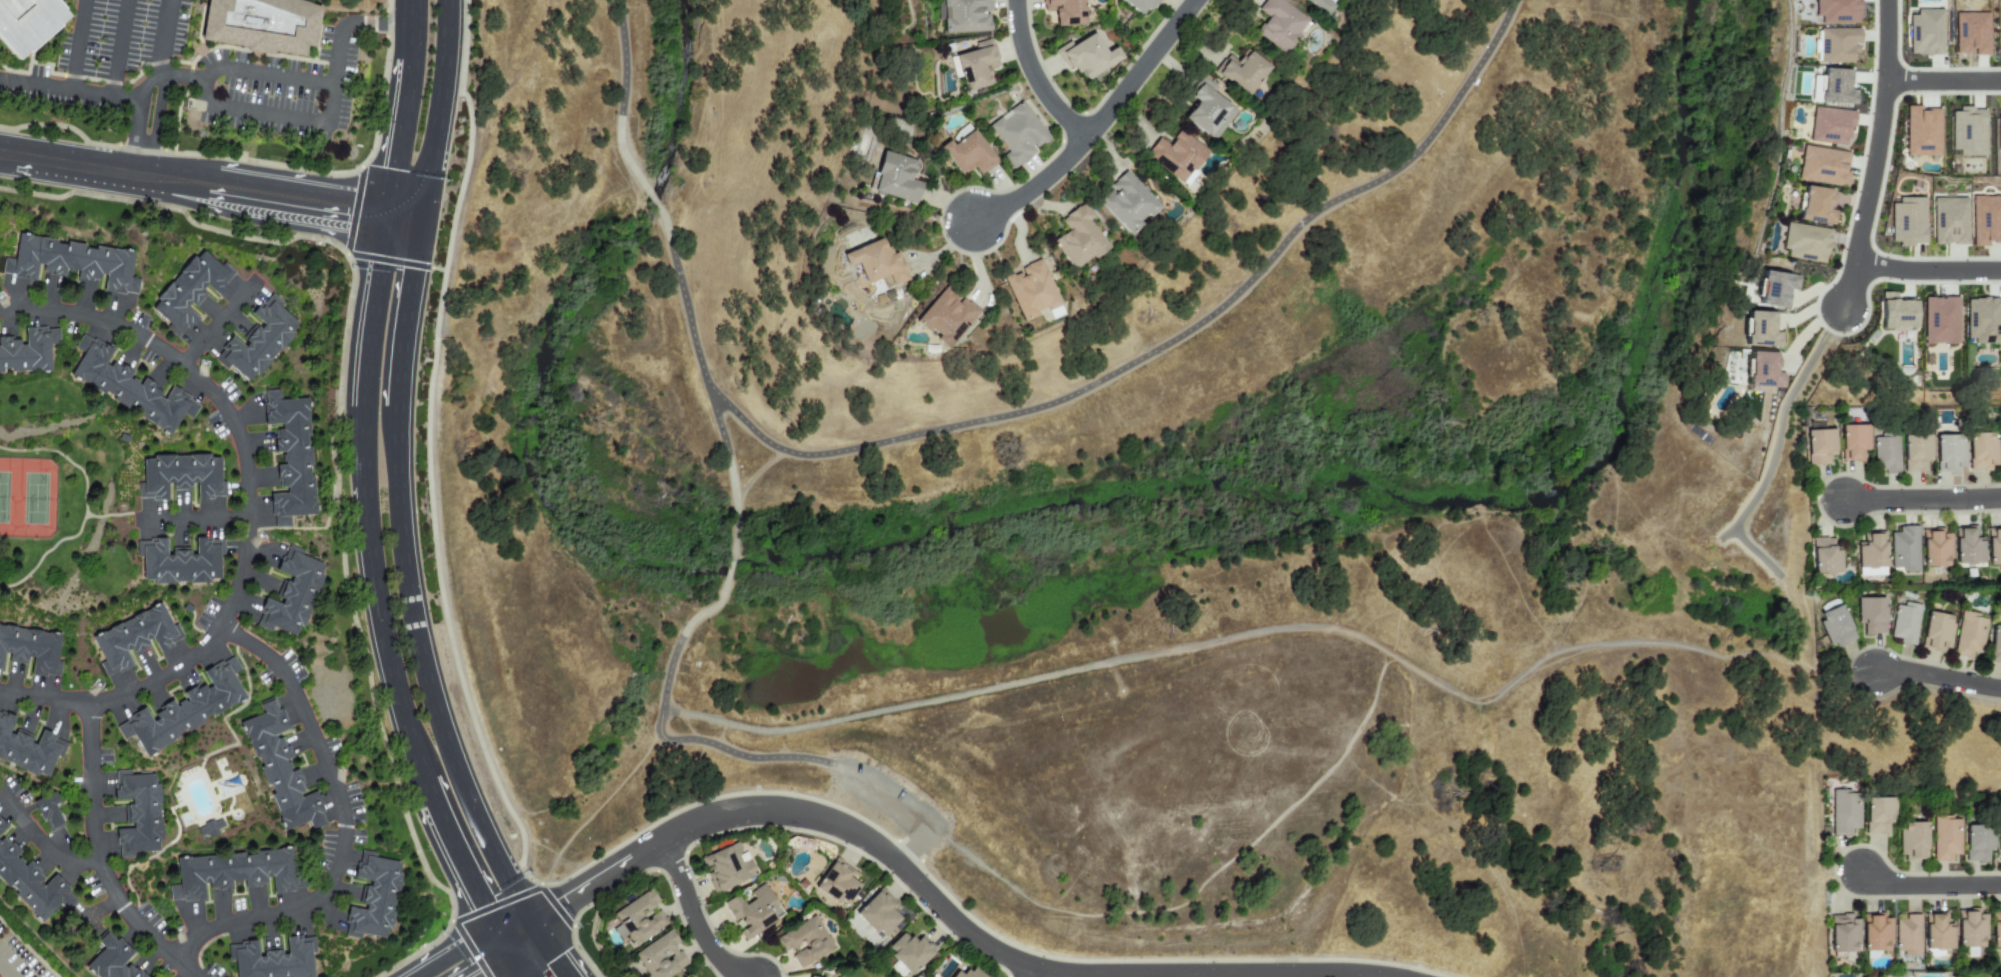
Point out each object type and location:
building: (1141, 4)
building: (1319, 5)
building: (1836, 11)
building: (1066, 12)
building: (964, 17)
building: (30, 18)
road: (375, 23)
building: (261, 24)
building: (1280, 25)
road: (408, 29)
building: (1999, 30)
building: (1925, 32)
building: (1971, 33)
road: (163, 38)
road: (76, 45)
building: (1836, 45)
road: (117, 48)
building: (1087, 55)
building: (974, 66)
road: (1138, 69)
building: (1242, 72)
road: (334, 74)
road: (276, 76)
road: (180, 77)
road: (1033, 77)
road: (1942, 81)
road: (203, 82)
building: (1833, 87)
road: (68, 89)
road: (624, 97)
building: (1209, 109)
road: (439, 111)
road: (268, 116)
road: (133, 120)
building: (1830, 126)
road: (159, 127)
road: (1878, 131)
building: (1998, 131)
building: (1922, 132)
building: (1967, 132)
building: (1018, 134)
road: (396, 137)
building: (966, 152)
building: (1177, 156)
traffic signals: (392, 164)
building: (1823, 166)
building: (895, 177)
road: (191, 185)
road: (1034, 186)
road: (653, 202)
building: (1127, 202)
building: (1816, 206)
traffic signals: (343, 210)
road: (402, 218)
building: (1985, 220)
building: (1907, 221)
building: (1949, 221)
building: (1078, 239)
building: (1805, 243)
building: (75, 261)
building: (876, 262)
road: (1927, 271)
traffic signals: (412, 277)
road: (1849, 284)
building: (1775, 289)
building: (193, 290)
building: (1031, 290)
road: (685, 307)
building: (1896, 314)
road: (406, 315)
building: (946, 316)
building: (1983, 320)
building: (1940, 321)
road: (217, 323)
building: (262, 339)
road: (1171, 344)
building: (28, 351)
building: (1762, 370)
building: (133, 387)
building: (1853, 442)
building: (1819, 446)
building: (2000, 446)
building: (1981, 451)
building: (1916, 453)
building: (1948, 453)
building: (1886, 455)
building: (294, 456)
road: (756, 473)
building: (185, 475)
road: (730, 475)
road: (361, 499)
road: (1922, 499)
park: (27, 500)
road: (250, 513)
road: (195, 519)
building: (1993, 546)
building: (1967, 547)
building: (1934, 548)
building: (1903, 549)
building: (1870, 555)
building: (1823, 557)
building: (184, 561)
road: (728, 569)
building: (295, 592)
building: (1872, 615)
building: (1905, 623)
building: (1835, 626)
building: (1937, 631)
building: (1968, 635)
building: (138, 637)
building: (1995, 644)
building: (31, 647)
street lamp: (1844, 663)
road: (424, 671)
road: (1937, 677)
building: (188, 709)
park: (1276, 725)
road: (666, 740)
building: (28, 750)
building: (284, 768)
road: (424, 791)
road: (885, 796)
parking lot: (893, 805)
building: (1843, 812)
building: (48, 814)
building: (1877, 815)
building: (139, 816)
building: (0, 823)
road: (342, 825)
building: (1, 830)
building: (1944, 838)
building: (1911, 840)
building: (1999, 841)
road: (43, 843)
building: (1977, 843)
road: (913, 848)
road: (101, 858)
building: (726, 866)
road: (458, 868)
building: (240, 872)
building: (837, 883)
building: (32, 885)
road: (1929, 885)
building: (377, 896)
traffic signals: (567, 902)
traffic signals: (477, 905)
road: (542, 911)
building: (752, 911)
road: (945, 911)
building: (877, 914)
building: (638, 918)
road: (696, 919)
road: (548, 922)
road: (509, 923)
road: (532, 925)
building: (1970, 929)
building: (1995, 929)
building: (1876, 932)
building: (1937, 933)
building: (1842, 934)
building: (1907, 935)
road: (499, 942)
building: (804, 942)
road: (522, 944)
road: (447, 951)
building: (909, 952)
road: (551, 956)
building: (660, 957)
building: (111, 960)
building: (277, 961)
road: (486, 964)
traffic signals: (556, 964)
road: (513, 965)
road: (5, 971)
traffic signals: (475, 972)
road: (1032, 972)
building: (969, 973)
building: (808, 976)
road: (1205, 976)

